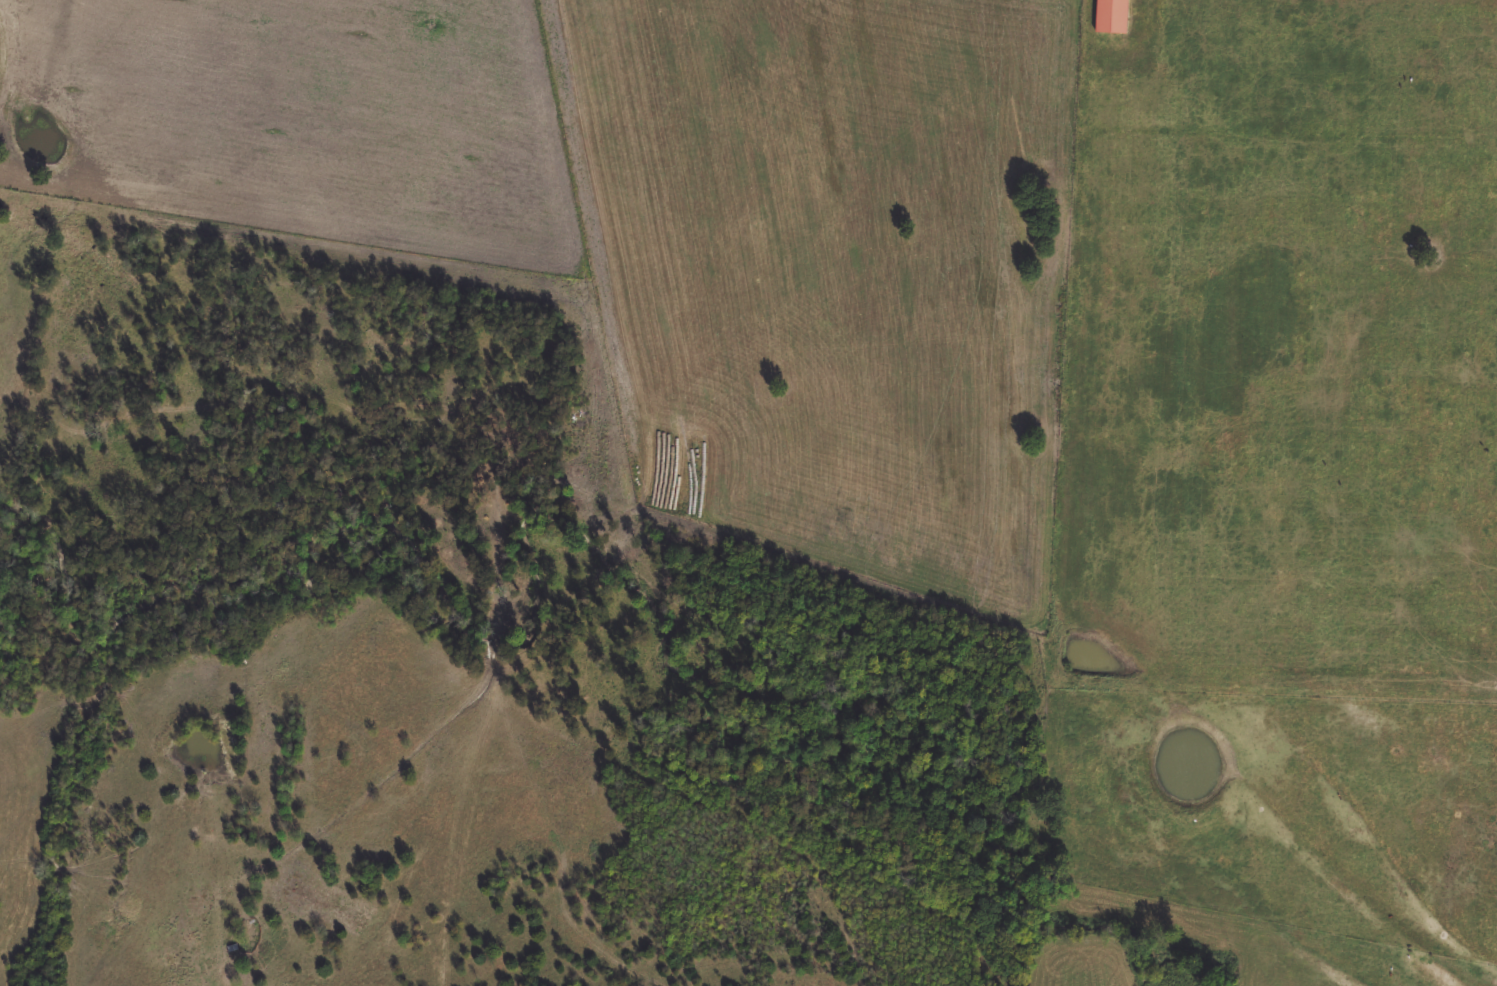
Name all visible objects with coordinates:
building: (1113, 16)
building: (1399, 269)

